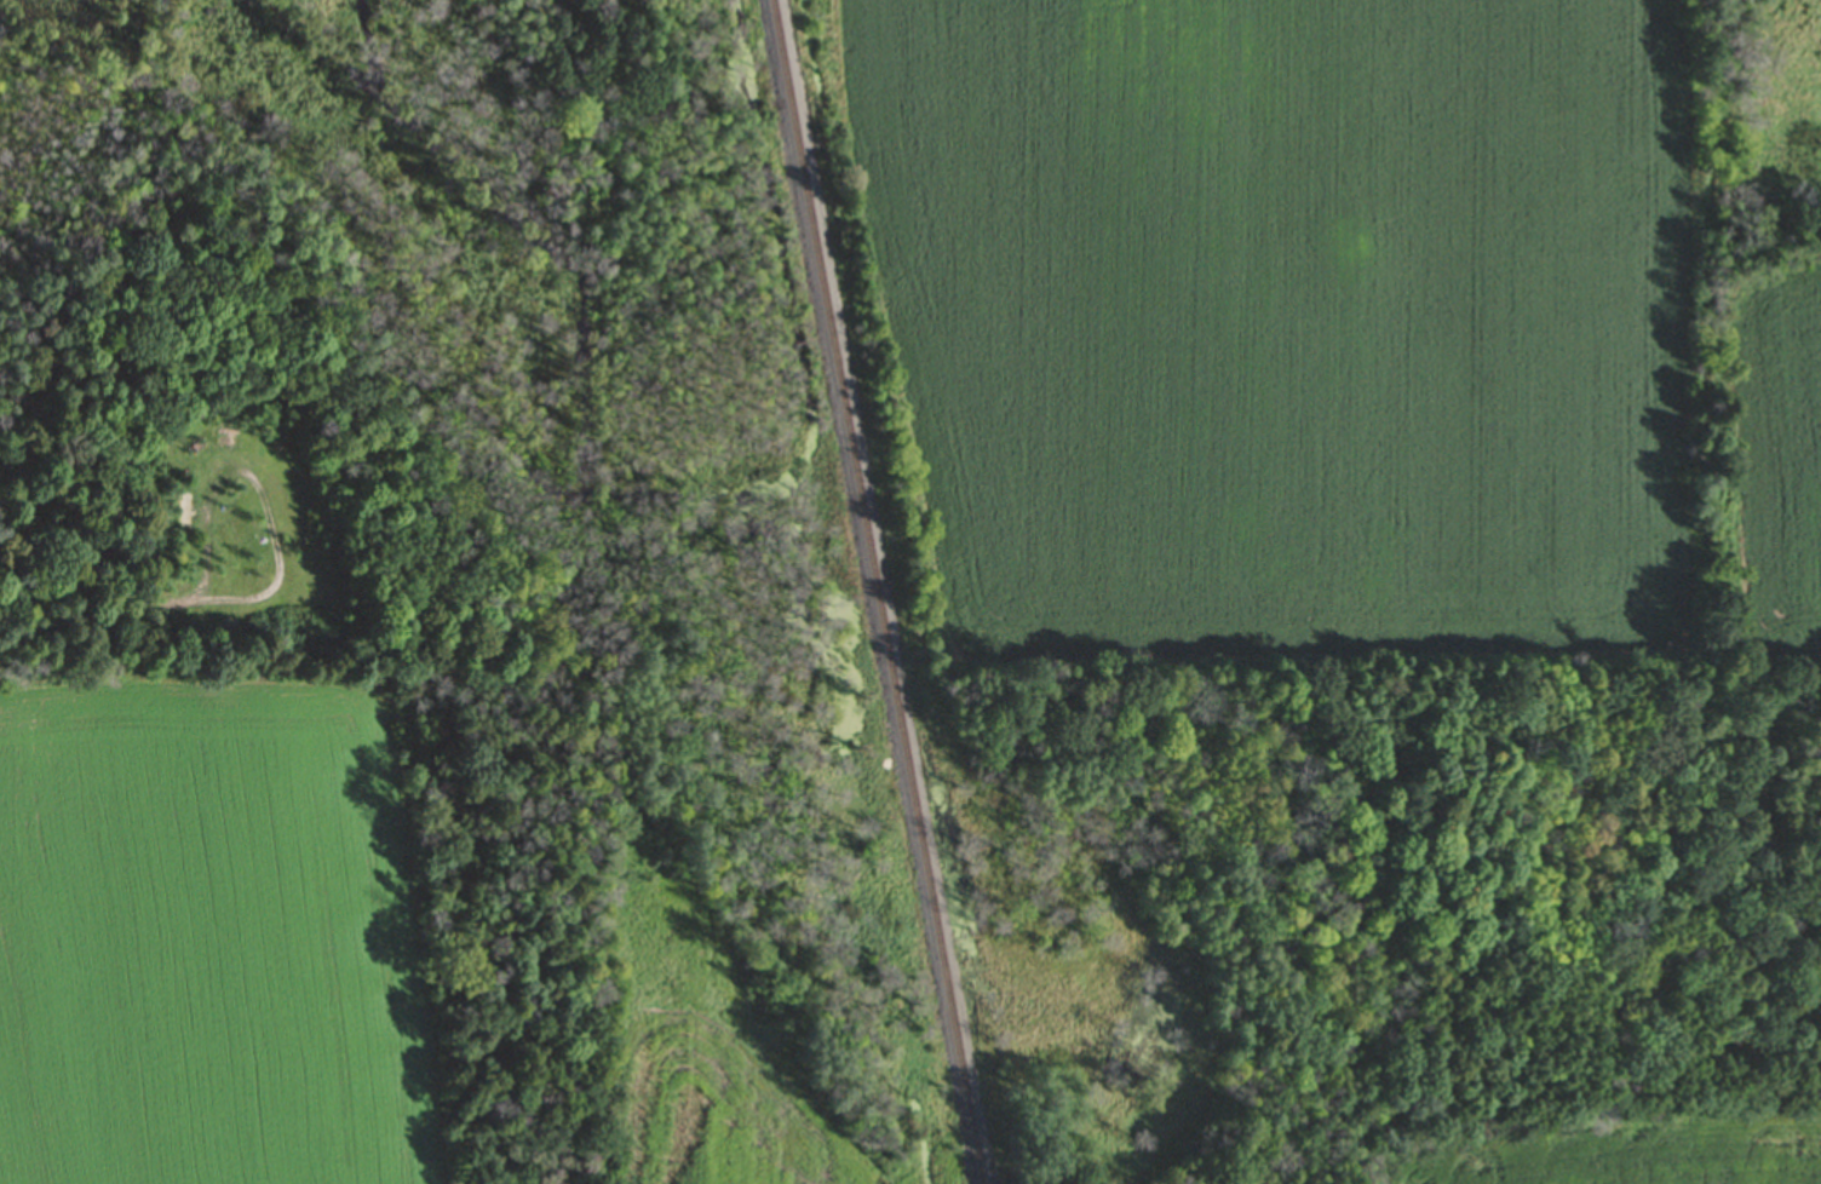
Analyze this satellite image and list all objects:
railway: (881, 592)
road: (65, 622)
road: (71, 988)

